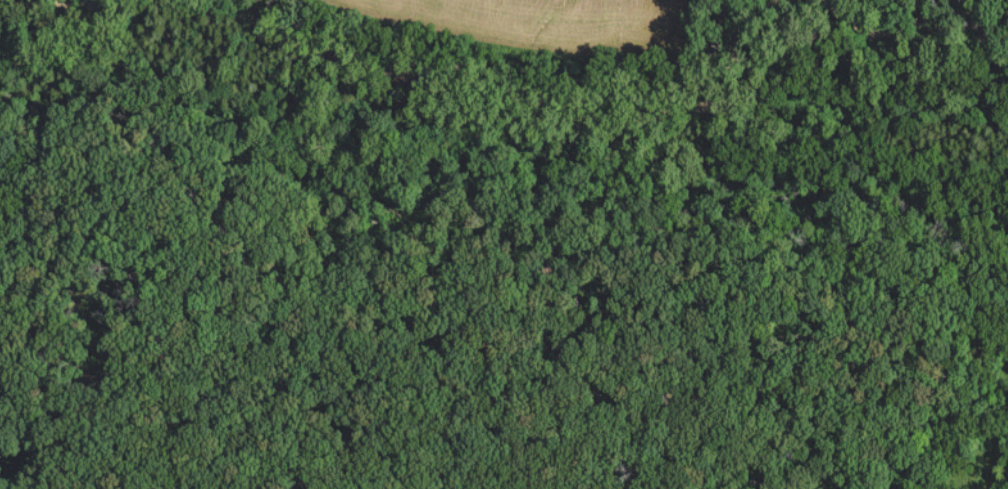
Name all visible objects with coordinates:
crop: (547, 29)

